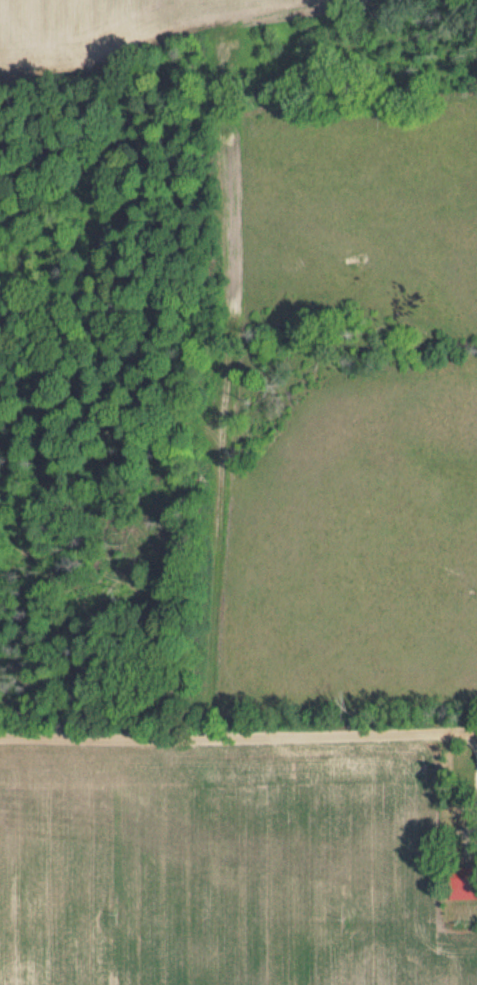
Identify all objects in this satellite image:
road: (238, 731)
building: (461, 882)
building: (464, 910)

